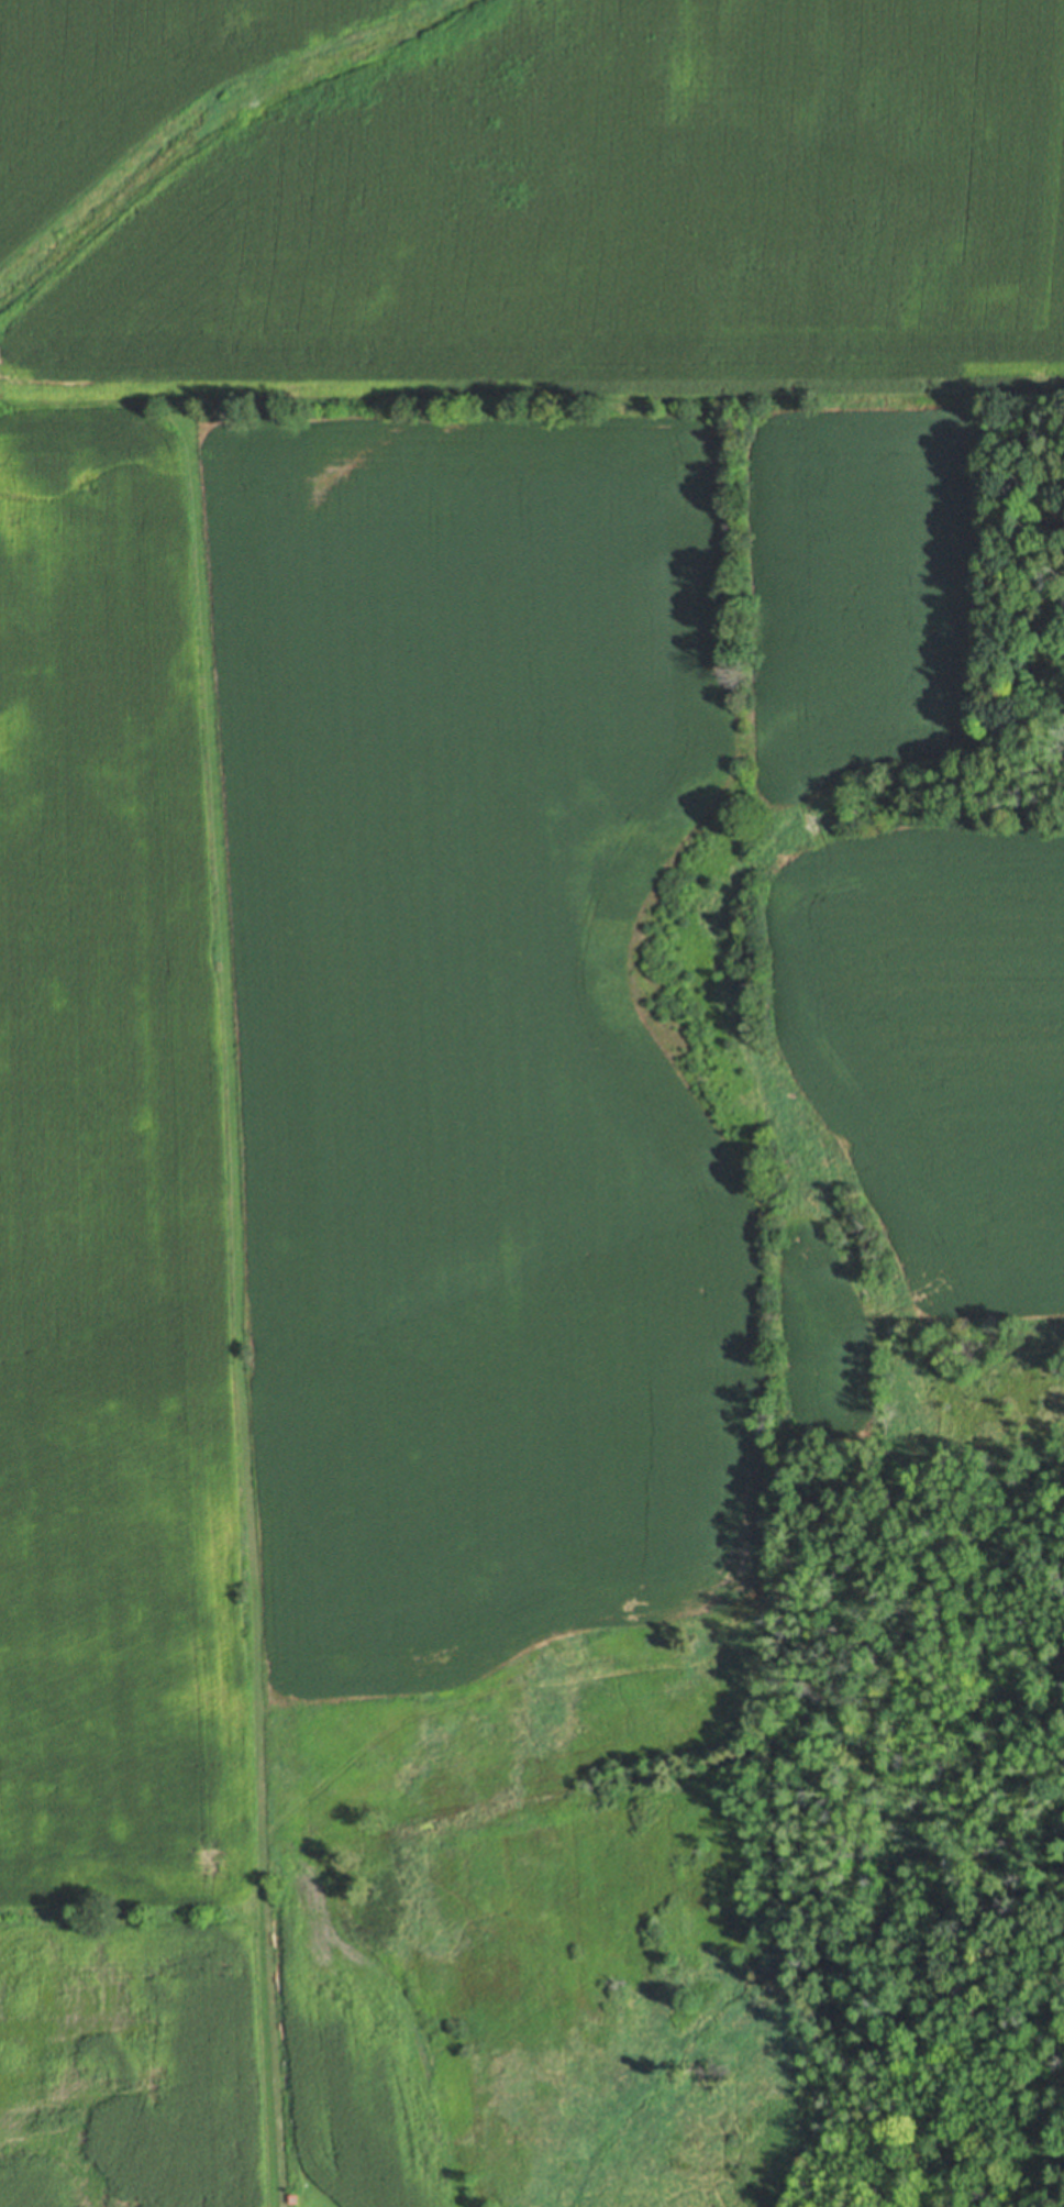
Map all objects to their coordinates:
building: (293, 2198)

